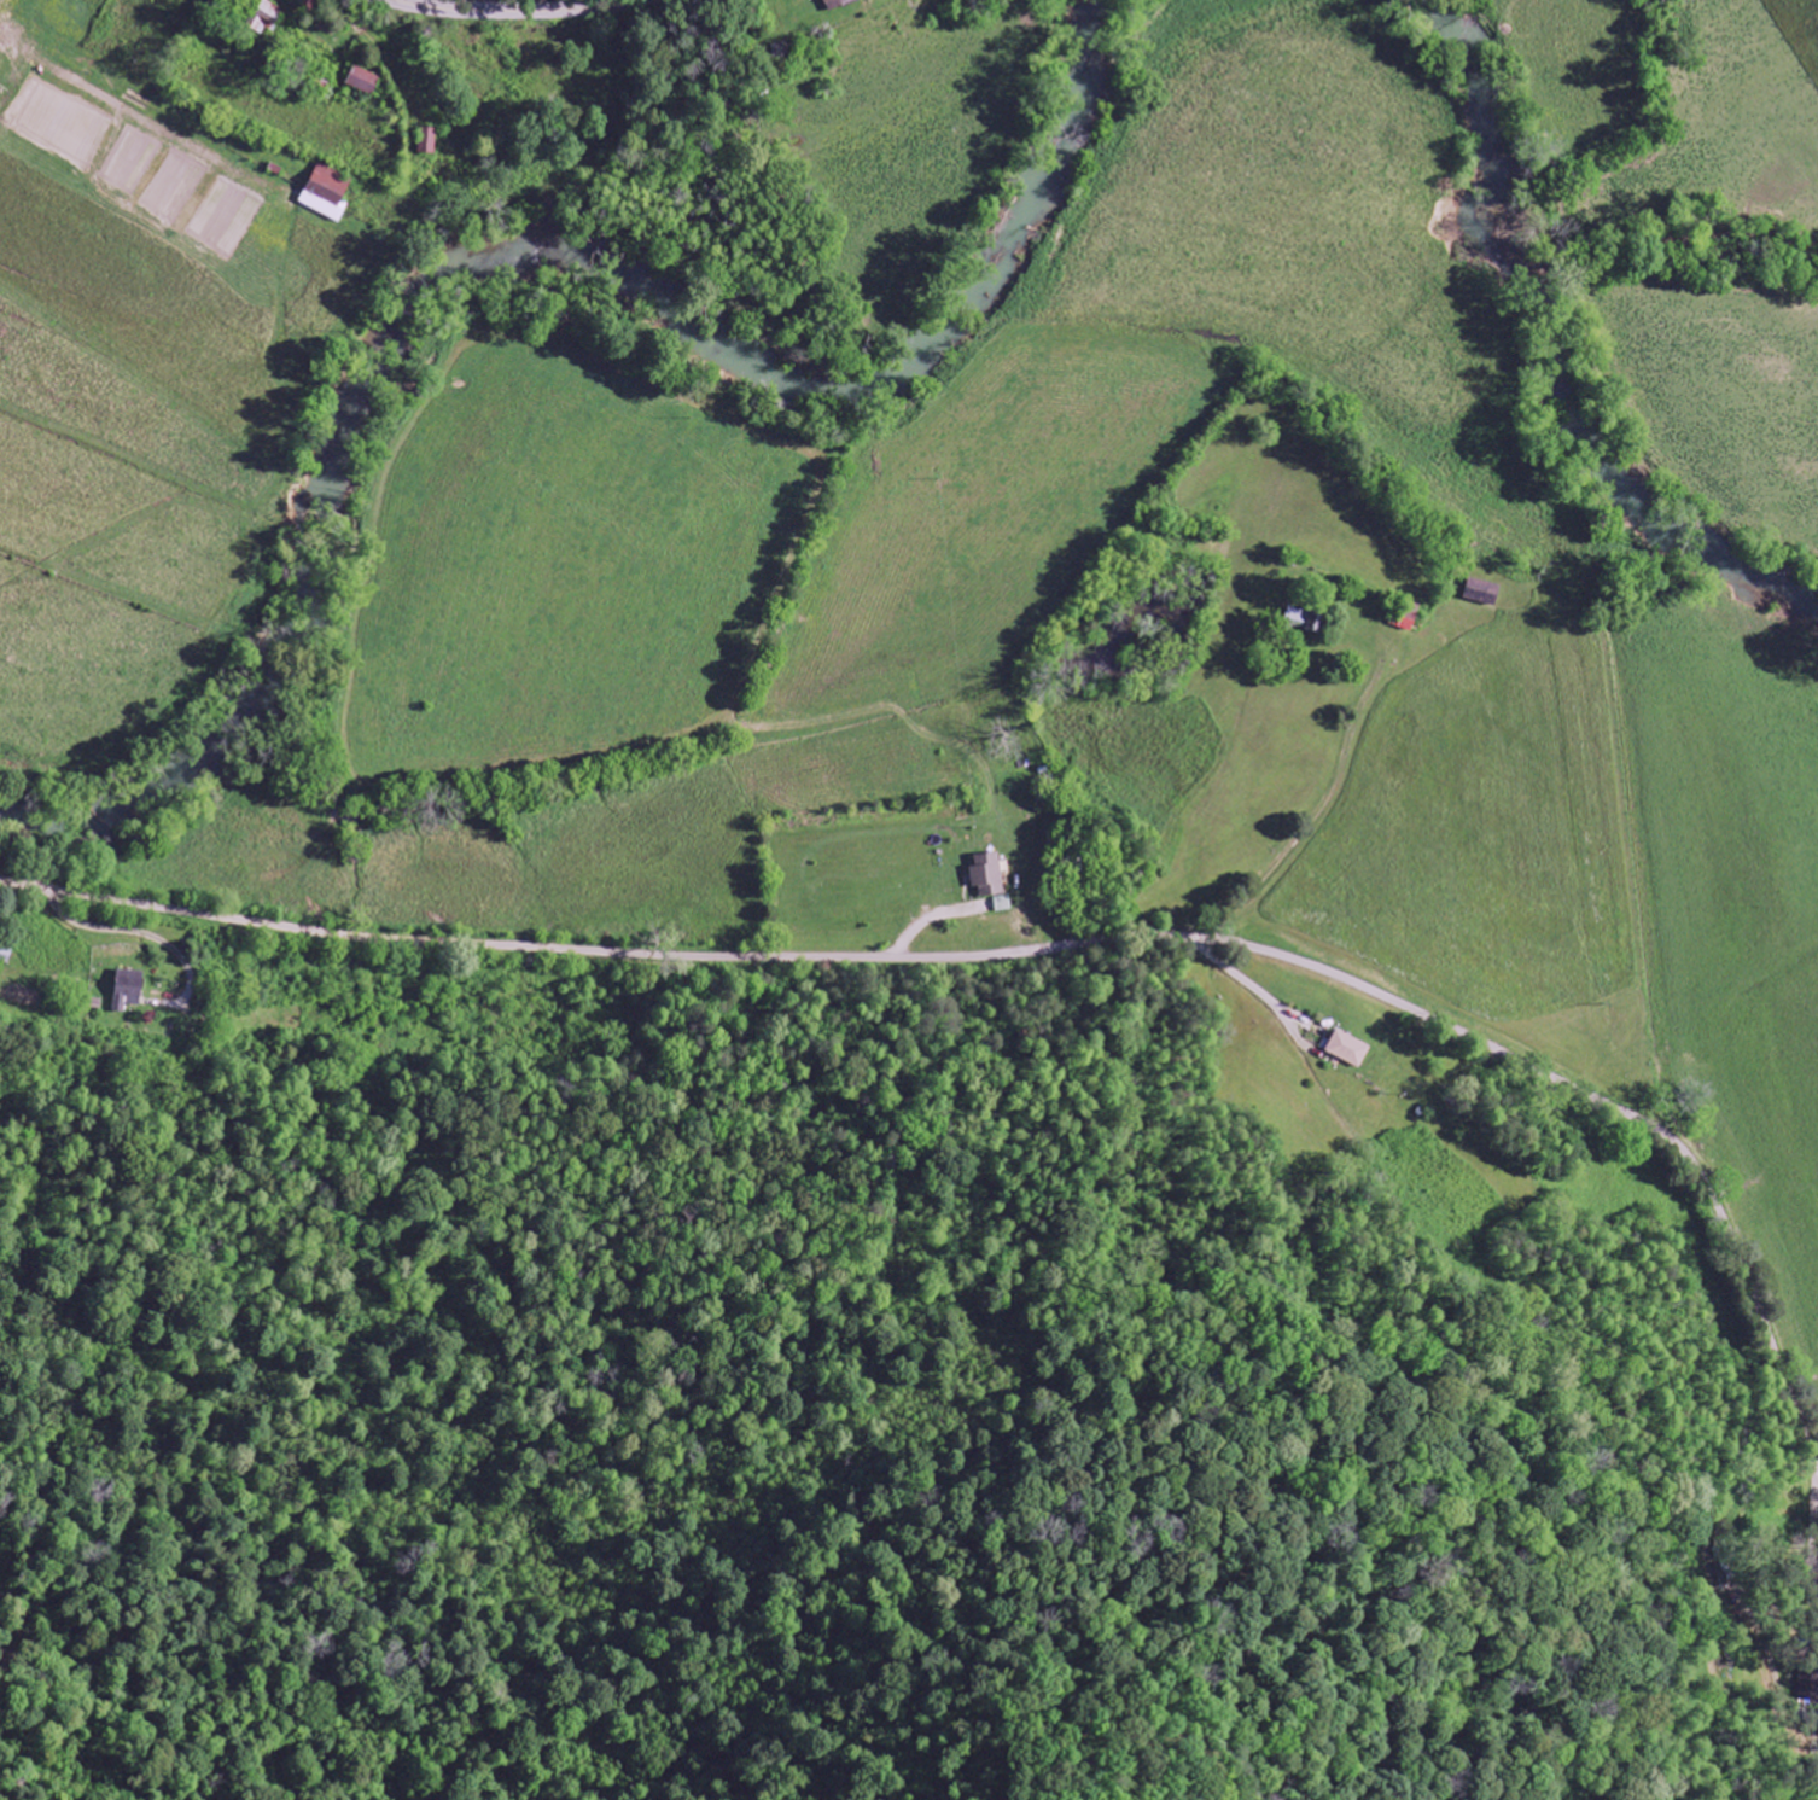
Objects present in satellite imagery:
building: (309, 4)
building: (834, 5)
road: (514, 12)
building: (266, 18)
building: (365, 82)
building: (429, 142)
building: (327, 193)
building: (1484, 592)
building: (989, 875)
road: (913, 955)
building: (129, 989)
building: (1347, 1049)
road: (1753, 1295)

